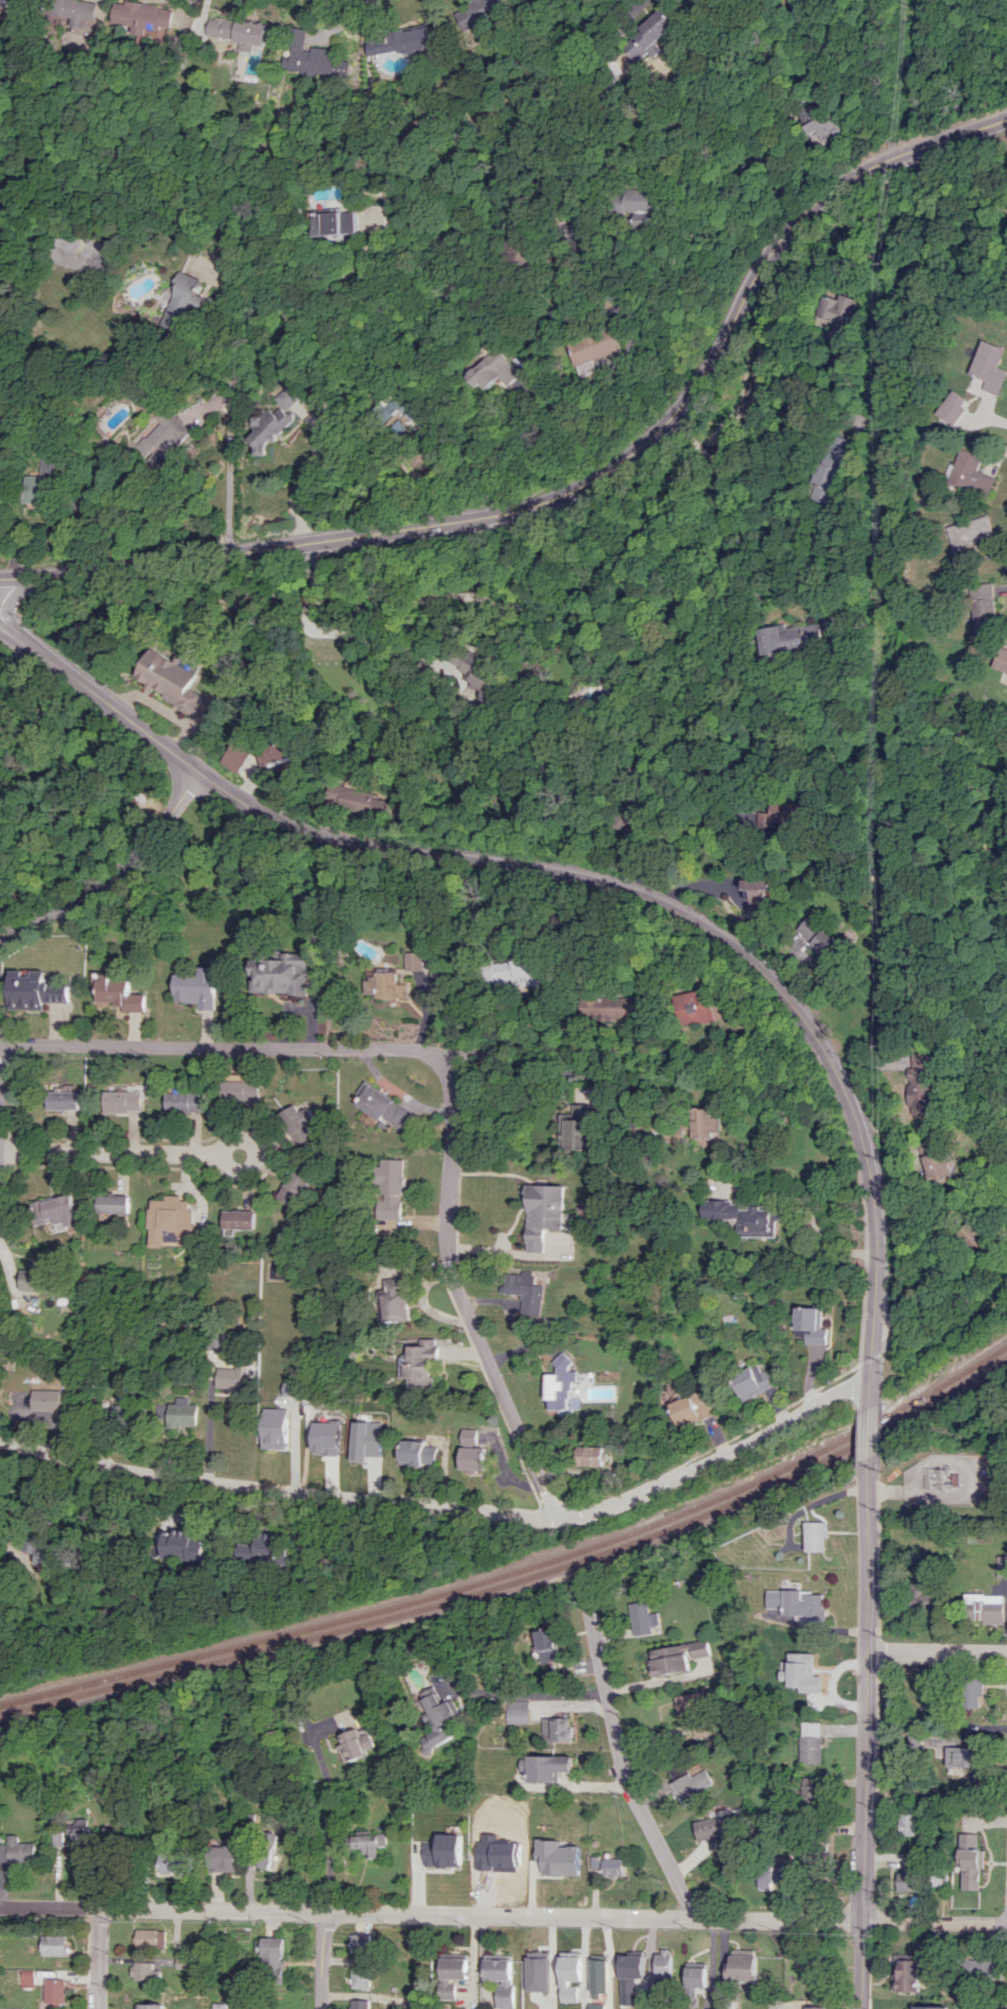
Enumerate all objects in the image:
building: (4, 3)
building: (481, 9)
road: (635, 11)
building: (142, 16)
building: (239, 31)
building: (649, 35)
building: (400, 42)
building: (306, 54)
building: (826, 127)
building: (640, 205)
building: (333, 222)
road: (341, 274)
road: (246, 294)
building: (180, 295)
building: (843, 315)
building: (594, 346)
road: (528, 355)
building: (993, 367)
building: (491, 371)
building: (284, 397)
building: (956, 406)
building: (390, 410)
road: (801, 415)
road: (679, 426)
building: (267, 428)
building: (165, 433)
road: (321, 433)
road: (699, 447)
road: (229, 460)
building: (835, 468)
building: (971, 474)
road: (595, 478)
building: (41, 484)
building: (969, 536)
road: (313, 566)
road: (19, 578)
road: (13, 598)
road: (308, 599)
building: (982, 607)
road: (4, 625)
road: (4, 627)
road: (717, 630)
road: (375, 637)
building: (795, 637)
building: (1000, 660)
building: (481, 675)
building: (171, 679)
building: (273, 754)
building: (233, 756)
building: (353, 799)
road: (673, 838)
road: (115, 875)
road: (592, 878)
building: (760, 893)
building: (820, 936)
building: (414, 961)
building: (512, 970)
building: (280, 974)
building: (385, 985)
building: (197, 987)
building: (34, 990)
building: (120, 994)
building: (595, 1006)
building: (692, 1007)
road: (217, 1046)
road: (561, 1050)
building: (919, 1081)
building: (240, 1090)
building: (63, 1098)
building: (121, 1101)
building: (186, 1101)
building: (381, 1106)
building: (298, 1122)
building: (705, 1124)
building: (575, 1128)
road: (108, 1152)
road: (253, 1153)
building: (930, 1160)
building: (293, 1187)
building: (389, 1188)
building: (114, 1204)
building: (55, 1211)
building: (542, 1214)
building: (743, 1217)
building: (240, 1219)
building: (172, 1221)
road: (829, 1235)
building: (33, 1279)
road: (457, 1290)
building: (526, 1291)
building: (396, 1299)
building: (810, 1325)
road: (874, 1357)
building: (421, 1363)
road: (885, 1374)
building: (232, 1378)
building: (754, 1381)
building: (563, 1384)
building: (48, 1399)
building: (693, 1409)
building: (181, 1413)
building: (130, 1415)
road: (755, 1426)
building: (277, 1427)
road: (883, 1428)
road: (874, 1432)
road: (211, 1437)
building: (366, 1440)
building: (470, 1451)
building: (417, 1453)
building: (591, 1455)
road: (882, 1468)
power substation: (951, 1479)
street lamp: (857, 1482)
road: (882, 1490)
road: (889, 1490)
building: (984, 1497)
road: (451, 1507)
building: (816, 1536)
building: (180, 1546)
building: (260, 1548)
building: (46, 1552)
building: (1002, 1565)
road: (880, 1567)
railway: (520, 1568)
railway: (520, 1578)
building: (920, 1595)
building: (799, 1603)
building: (985, 1607)
building: (643, 1618)
building: (545, 1645)
road: (938, 1649)
building: (677, 1657)
building: (812, 1677)
road: (533, 1691)
building: (973, 1691)
building: (688, 1703)
building: (514, 1711)
building: (437, 1722)
building: (554, 1729)
road: (868, 1735)
building: (810, 1742)
building: (354, 1744)
building: (961, 1756)
building: (545, 1767)
road: (619, 1768)
building: (690, 1785)
building: (811, 1790)
building: (906, 1822)
road: (318, 1824)
building: (715, 1827)
building: (76, 1832)
building: (366, 1843)
building: (17, 1850)
building: (444, 1851)
building: (261, 1855)
building: (224, 1856)
building: (556, 1857)
building: (174, 1862)
building: (969, 1862)
building: (495, 1863)
building: (607, 1865)
building: (773, 1874)
building: (906, 1881)
road: (503, 1915)
building: (149, 1938)
building: (360, 1942)
building: (54, 1945)
building: (273, 1956)
road: (96, 1958)
road: (324, 1961)
building: (663, 1963)
building: (983, 1968)
building: (741, 1969)
building: (144, 1971)
building: (905, 1973)
building: (451, 1975)
building: (598, 1976)
building: (500, 1977)
building: (568, 1977)
building: (630, 1977)
building: (696, 1977)
building: (361, 1978)
building: (56, 1992)
building: (360, 2004)
building: (218, 2005)
building: (149, 2006)
building: (930, 2007)

